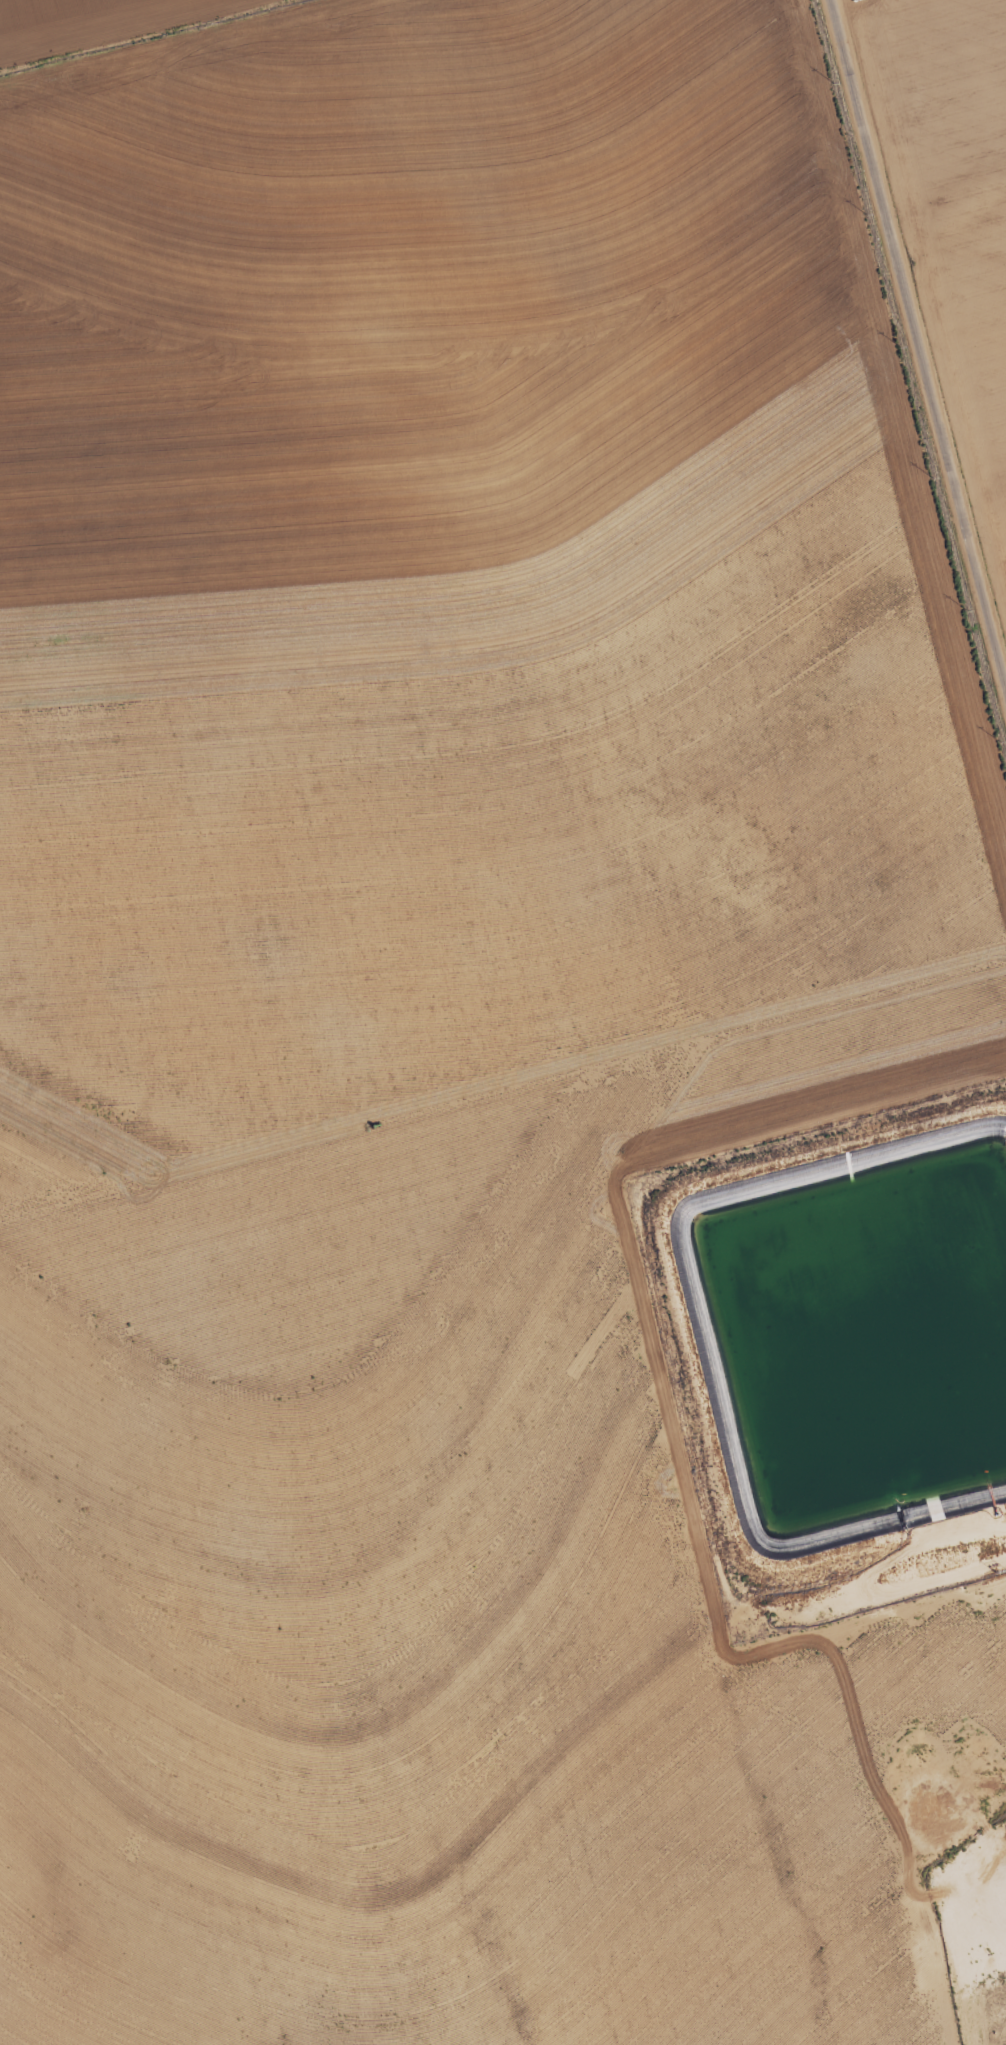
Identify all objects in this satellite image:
road: (915, 352)

